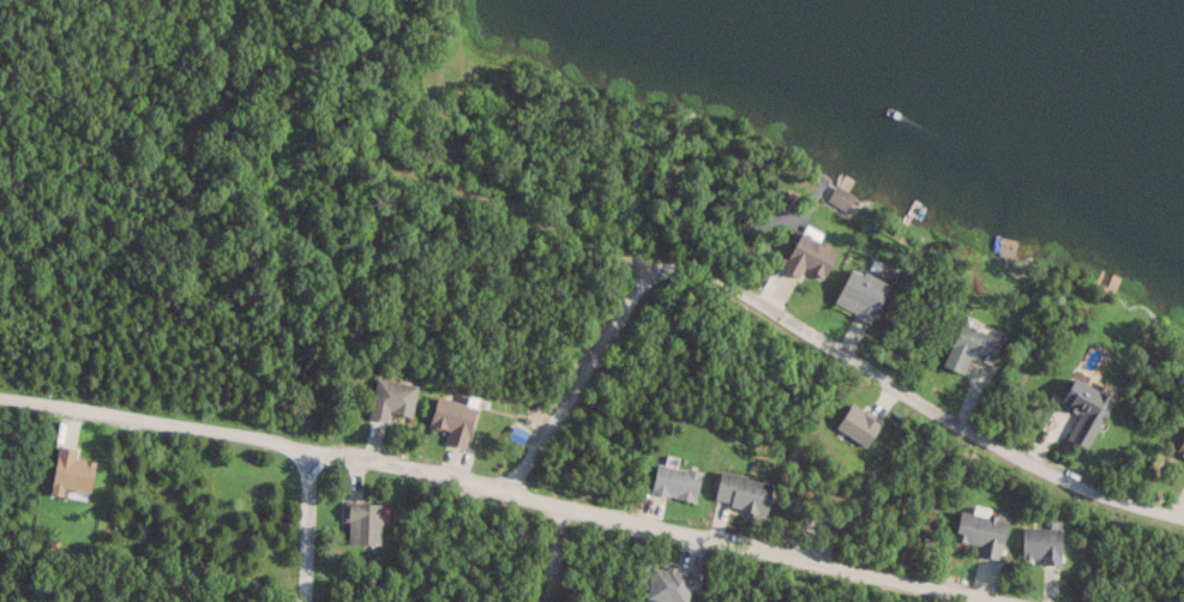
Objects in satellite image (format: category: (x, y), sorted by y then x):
building: (809, 254)
building: (860, 293)
road: (799, 329)
building: (970, 347)
building: (391, 397)
building: (1086, 409)
building: (453, 419)
road: (252, 438)
building: (1180, 447)
building: (675, 481)
building: (743, 492)
building: (362, 522)
road: (302, 528)
building: (982, 531)
building: (1041, 544)
road: (746, 547)
building: (672, 583)

